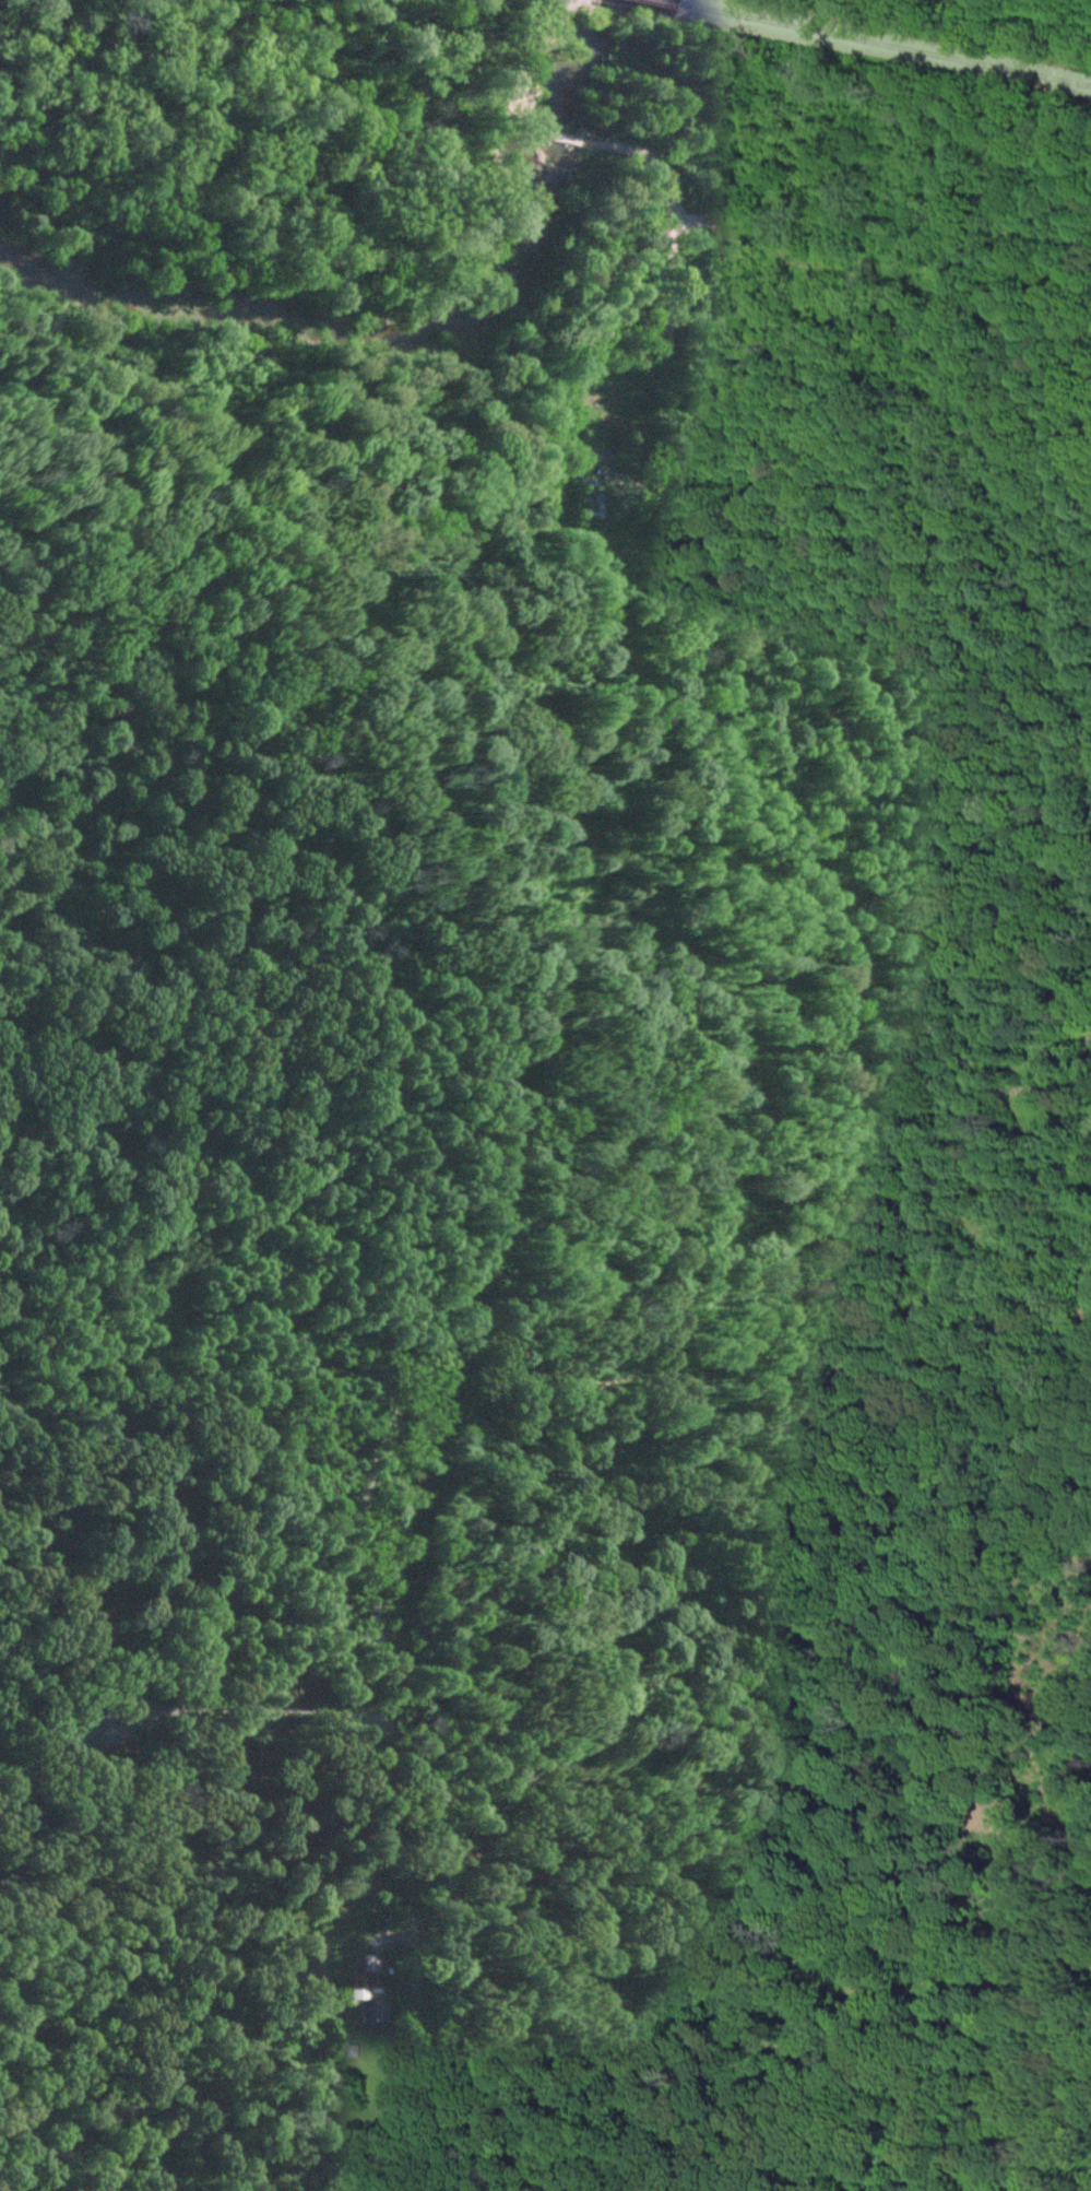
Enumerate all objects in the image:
railway: (673, 0)
railway: (884, 44)
road: (543, 50)
road: (532, 121)
road: (561, 136)
road: (633, 154)
road: (344, 267)
river: (419, 326)
building: (586, 455)
road: (847, 461)
road: (649, 1305)

